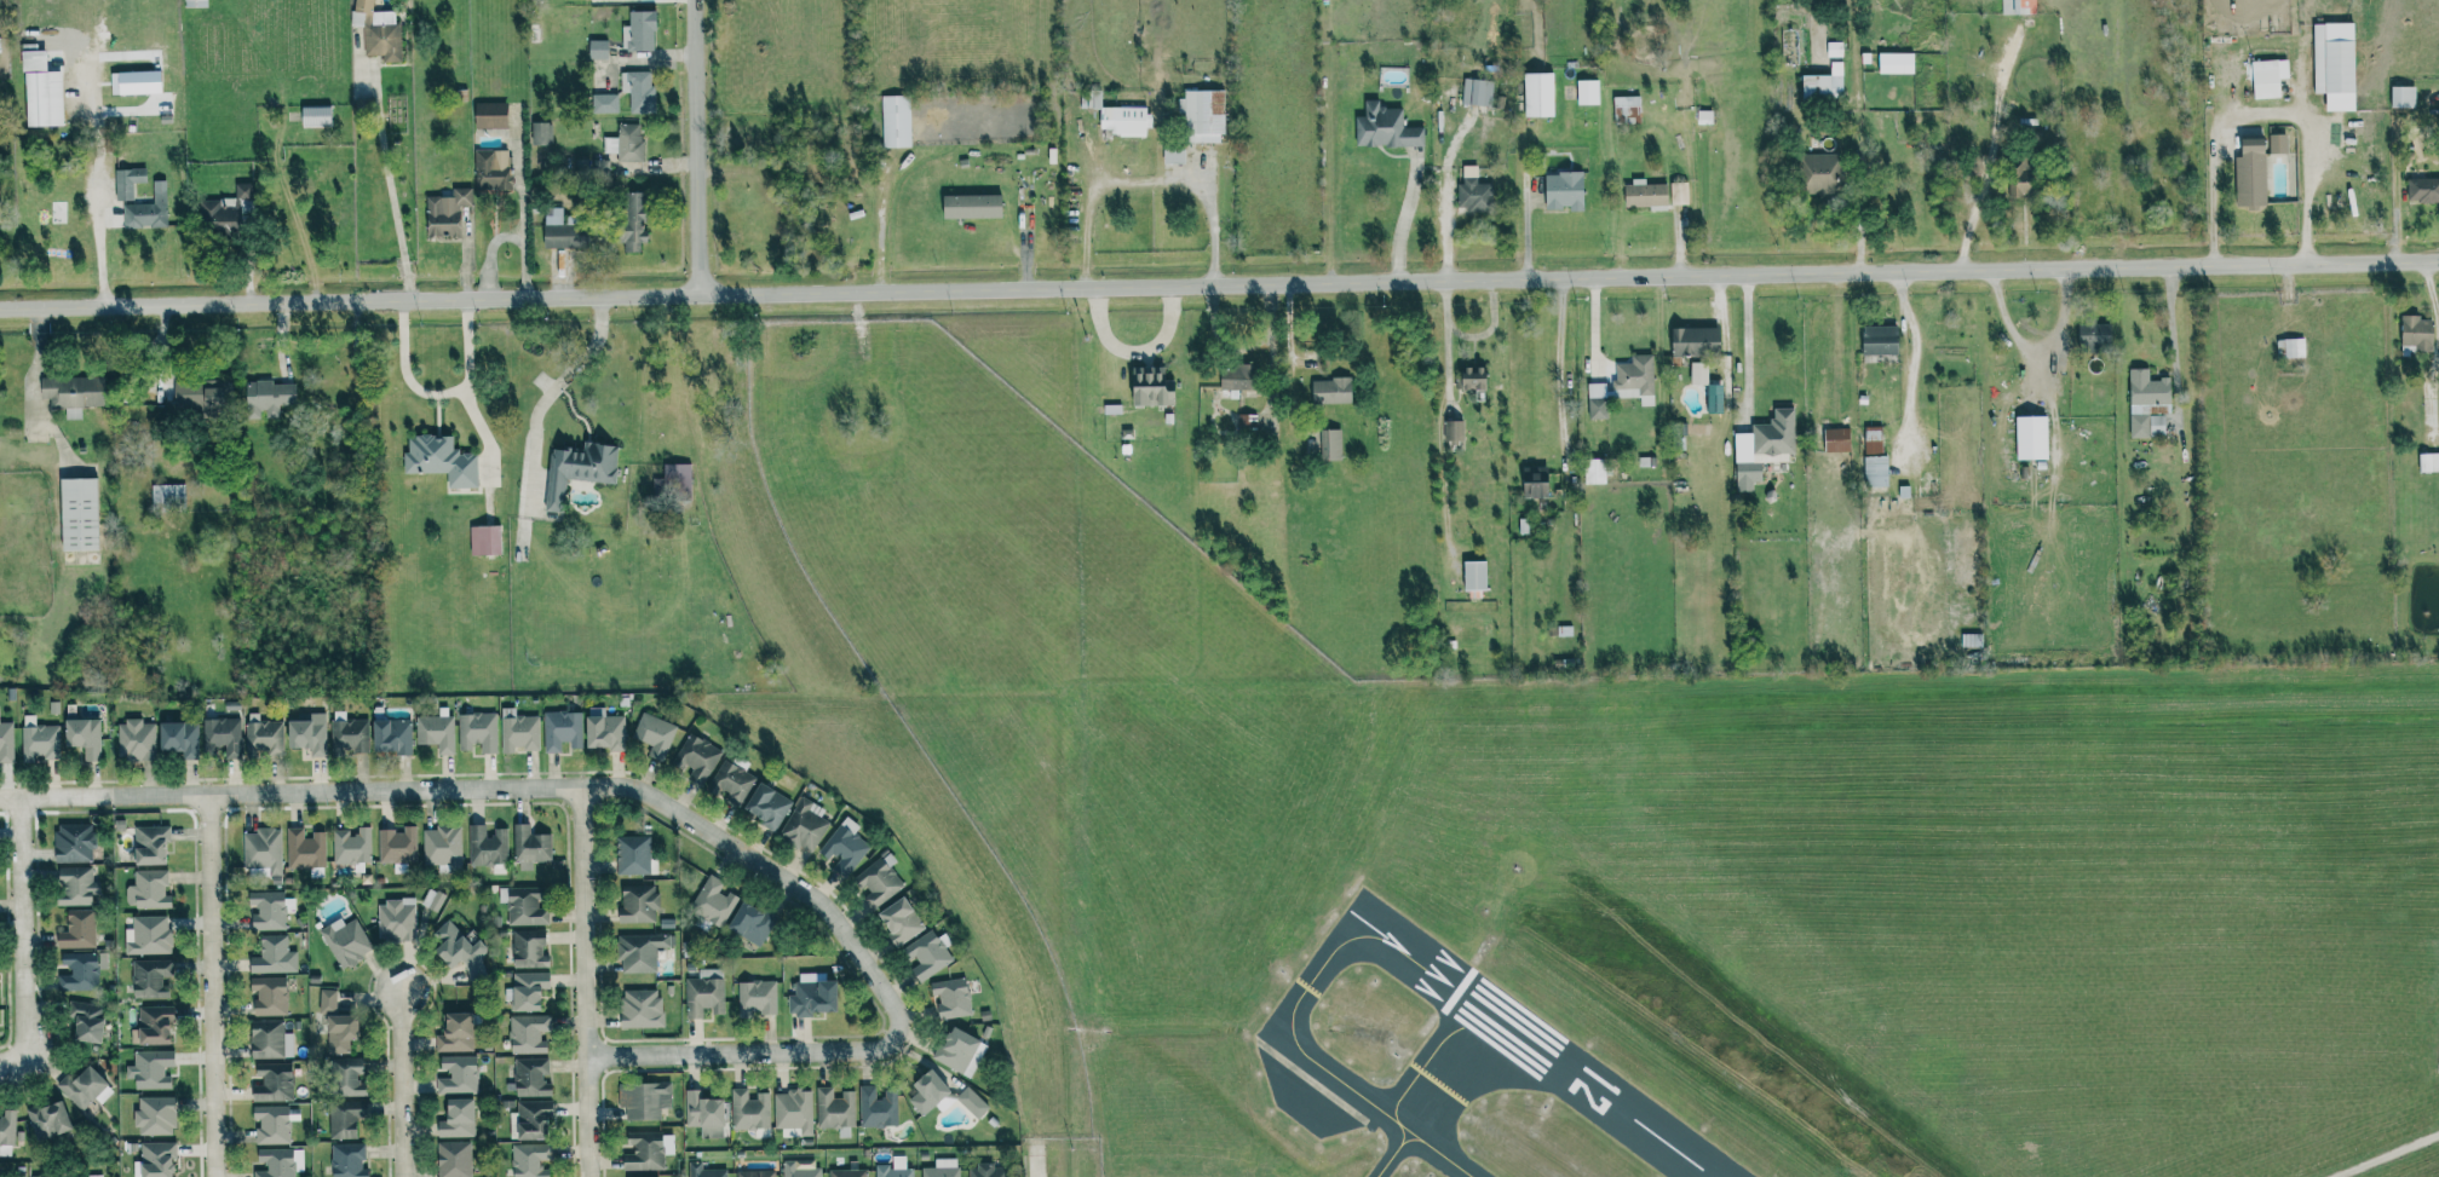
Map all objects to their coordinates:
building: (194, 2)
building: (2018, 6)
building: (378, 30)
building: (638, 30)
building: (597, 48)
building: (1834, 50)
building: (1896, 63)
building: (2334, 64)
building: (2268, 77)
building: (1824, 83)
building: (40, 91)
building: (638, 91)
building: (1477, 91)
building: (1587, 91)
building: (1538, 93)
building: (2403, 97)
building: (604, 103)
building: (1627, 108)
road: (2262, 112)
building: (489, 114)
building: (315, 115)
building: (1202, 115)
building: (1124, 120)
building: (896, 121)
building: (1385, 127)
building: (541, 132)
building: (2279, 140)
building: (626, 142)
road: (700, 148)
building: (1173, 154)
road: (1989, 160)
building: (491, 169)
building: (600, 171)
building: (1817, 172)
building: (2250, 174)
road: (1204, 177)
building: (2020, 178)
building: (126, 181)
road: (98, 183)
road: (390, 186)
building: (242, 190)
building: (1564, 190)
building: (2422, 190)
building: (1678, 192)
building: (1645, 194)
building: (971, 206)
building: (148, 209)
building: (445, 213)
road: (881, 213)
building: (217, 217)
building: (632, 220)
road: (1403, 221)
road: (519, 223)
road: (1858, 224)
building: (562, 230)
road: (1085, 236)
road: (487, 255)
road: (1219, 285)
road: (2171, 333)
building: (2093, 334)
building: (2416, 334)
road: (1471, 336)
building: (1879, 340)
building: (1696, 341)
road: (2035, 346)
road: (1747, 347)
building: (2291, 347)
road: (1914, 353)
road: (1448, 362)
road: (1558, 370)
building: (1698, 373)
building: (1236, 376)
building: (1472, 379)
building: (1634, 379)
building: (1150, 386)
building: (1330, 390)
building: (73, 393)
building: (200, 393)
road: (436, 394)
building: (266, 398)
building: (1598, 400)
building: (2147, 404)
road: (536, 419)
building: (1456, 431)
building: (2030, 438)
building: (1836, 439)
building: (1873, 439)
building: (1330, 444)
building: (1762, 448)
building: (439, 460)
building: (2428, 462)
building: (576, 469)
building: (1594, 471)
building: (1875, 471)
building: (674, 481)
building: (1532, 484)
building: (167, 494)
building: (77, 513)
building: (484, 540)
building: (1474, 575)
building: (560, 729)
building: (603, 729)
building: (518, 731)
building: (306, 732)
building: (436, 732)
building: (477, 732)
building: (654, 734)
building: (220, 735)
building: (263, 735)
building: (347, 735)
building: (390, 735)
building: (82, 737)
building: (178, 738)
building: (134, 740)
building: (6, 742)
building: (696, 760)
building: (730, 781)
road: (658, 801)
building: (766, 806)
building: (803, 825)
building: (74, 842)
building: (149, 844)
building: (351, 846)
building: (397, 846)
building: (442, 846)
building: (488, 846)
building: (530, 847)
building: (844, 847)
building: (263, 849)
building: (305, 850)
building: (632, 854)
airport: (1617, 858)
building: (878, 881)
building: (75, 887)
building: (148, 889)
building: (712, 901)
building: (638, 904)
building: (523, 907)
building: (266, 910)
building: (396, 919)
building: (899, 921)
building: (749, 923)
road: (23, 929)
building: (76, 930)
building: (148, 935)
building: (345, 941)
building: (459, 948)
building: (528, 948)
building: (639, 951)
building: (274, 956)
building: (926, 956)
building: (79, 971)
airport runway: (1478, 971)
building: (148, 980)
road: (585, 981)
road: (213, 986)
building: (528, 990)
building: (704, 992)
building: (269, 996)
building: (810, 996)
building: (757, 997)
building: (951, 997)
building: (327, 999)
building: (640, 1008)
building: (84, 1021)
building: (151, 1026)
airport taxiway: (1294, 1029)
building: (339, 1033)
building: (455, 1033)
building: (527, 1033)
building: (265, 1039)
airport taxiway: (1467, 1049)
building: (957, 1051)
road: (10, 1063)
building: (150, 1069)
building: (458, 1075)
building: (346, 1077)
building: (531, 1077)
road: (401, 1080)
airport runway: (1583, 1081)
building: (272, 1083)
building: (81, 1087)
building: (927, 1091)
airport apron: (1305, 1096)
building: (644, 1100)
building: (972, 1102)
building: (878, 1107)
building: (834, 1108)
building: (748, 1110)
building: (793, 1113)
building: (703, 1114)
building: (154, 1115)
building: (345, 1118)
building: (456, 1119)
building: (531, 1119)
building: (47, 1120)
building: (274, 1124)
airport taxiway: (1397, 1130)
building: (6, 1132)
airport taxiway: (1419, 1146)
building: (646, 1150)
airport taxiway: (1393, 1154)
building: (156, 1159)
building: (453, 1159)
building: (347, 1160)
building: (530, 1160)
road: (1035, 1161)
building: (274, 1162)
building: (893, 1169)
building: (942, 1169)
building: (798, 1170)
building: (703, 1171)
building: (847, 1171)
building: (986, 1171)
building: (755, 1173)
building: (38, 1176)
building: (94, 1176)

